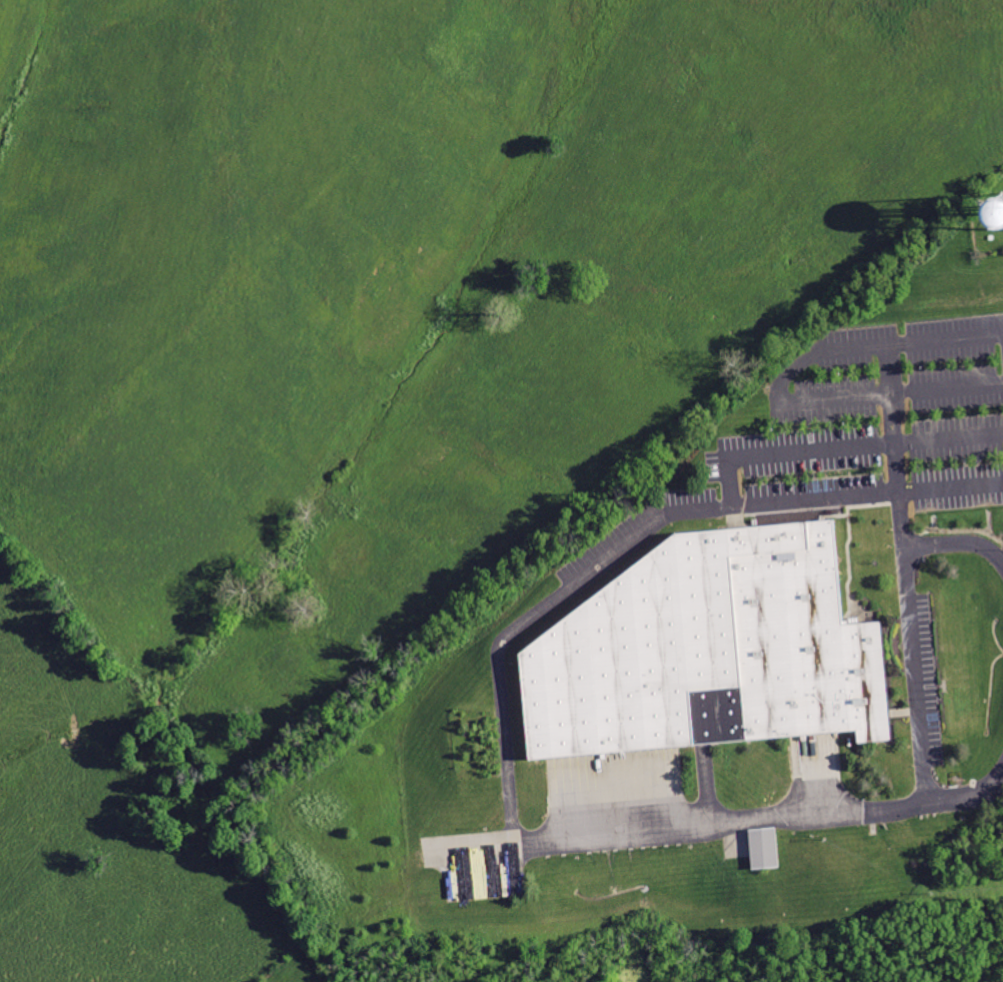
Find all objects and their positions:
building: (994, 215)
building: (722, 651)
road: (916, 667)
road: (504, 686)
building: (774, 849)

